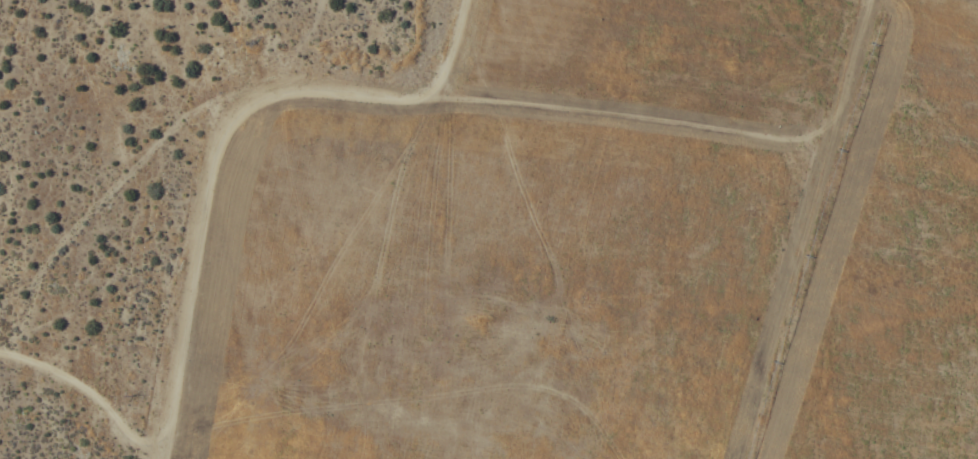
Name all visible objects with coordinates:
road: (672, 26)
road: (388, 231)
crop: (612, 243)

